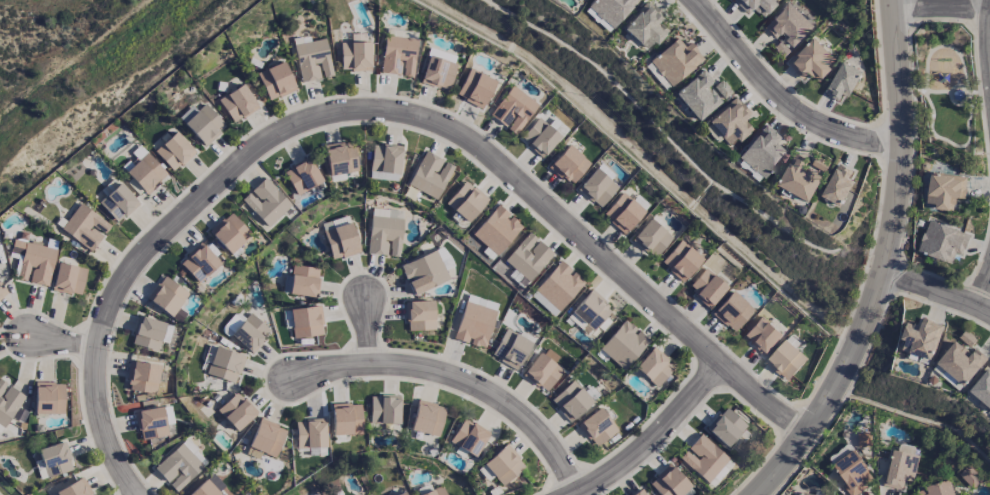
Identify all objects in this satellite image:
building: (754, 5)
road: (942, 5)
building: (608, 11)
building: (788, 25)
building: (645, 26)
building: (401, 33)
building: (780, 48)
road: (930, 51)
building: (355, 56)
building: (398, 56)
building: (312, 60)
building: (812, 60)
building: (675, 61)
building: (438, 72)
building: (275, 81)
building: (843, 81)
park: (946, 86)
building: (475, 88)
road: (936, 91)
building: (959, 94)
road: (781, 97)
road: (951, 100)
building: (237, 103)
road: (377, 109)
building: (513, 110)
building: (202, 123)
building: (728, 123)
building: (539, 137)
road: (949, 141)
building: (174, 151)
building: (762, 151)
building: (385, 158)
building: (340, 159)
building: (568, 164)
building: (820, 164)
building: (146, 173)
building: (429, 175)
building: (302, 176)
building: (800, 178)
building: (838, 185)
building: (597, 187)
building: (945, 190)
building: (466, 201)
building: (117, 202)
building: (265, 202)
building: (622, 213)
building: (85, 227)
building: (496, 230)
building: (385, 232)
building: (228, 233)
building: (652, 238)
building: (341, 241)
building: (943, 242)
building: (527, 257)
building: (681, 261)
building: (32, 262)
building: (199, 262)
road: (884, 263)
building: (426, 270)
building: (68, 279)
building: (303, 281)
building: (558, 285)
building: (706, 287)
road: (936, 288)
road: (984, 289)
building: (2, 291)
building: (166, 295)
building: (481, 302)
building: (592, 311)
building: (732, 311)
building: (419, 315)
building: (306, 321)
building: (474, 324)
road: (367, 326)
building: (147, 333)
building: (250, 333)
building: (762, 335)
building: (967, 338)
road: (63, 339)
building: (920, 339)
building: (623, 344)
building: (510, 349)
building: (786, 360)
building: (961, 362)
building: (224, 365)
building: (653, 367)
building: (543, 369)
road: (458, 376)
building: (142, 377)
building: (983, 388)
building: (48, 398)
building: (570, 401)
building: (8, 402)
building: (383, 409)
building: (236, 411)
building: (427, 418)
building: (345, 419)
building: (169, 420)
building: (150, 423)
building: (725, 426)
building: (596, 427)
building: (310, 433)
building: (468, 437)
road: (653, 438)
building: (265, 439)
building: (864, 440)
building: (702, 458)
building: (52, 461)
building: (503, 464)
building: (180, 465)
building: (900, 469)
building: (719, 473)
building: (853, 473)
building: (969, 476)
building: (668, 482)
building: (74, 488)
building: (204, 489)
building: (937, 489)
building: (434, 492)
building: (640, 492)
building: (402, 494)
building: (806, 494)

